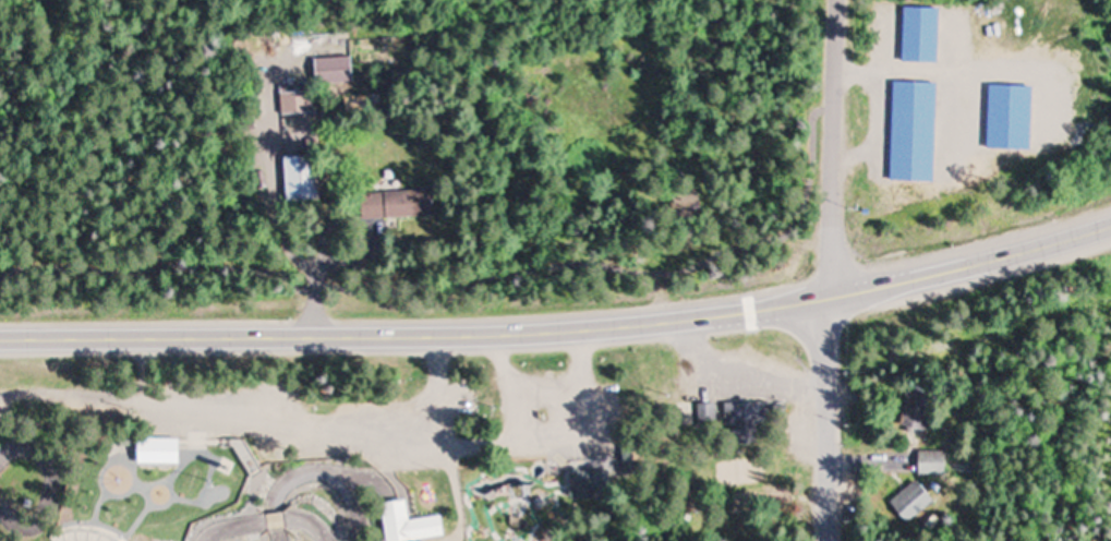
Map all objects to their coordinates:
building: (329, 68)
building: (932, 94)
building: (297, 103)
road: (832, 146)
road: (811, 165)
building: (298, 179)
building: (396, 203)
road: (971, 262)
road: (425, 296)
road: (750, 317)
road: (415, 329)
building: (923, 409)
building: (712, 414)
road: (831, 417)
building: (750, 423)
building: (162, 452)
building: (251, 453)
building: (639, 461)
building: (937, 465)
building: (597, 484)
building: (917, 504)
road: (469, 507)
building: (413, 525)
road: (466, 533)

